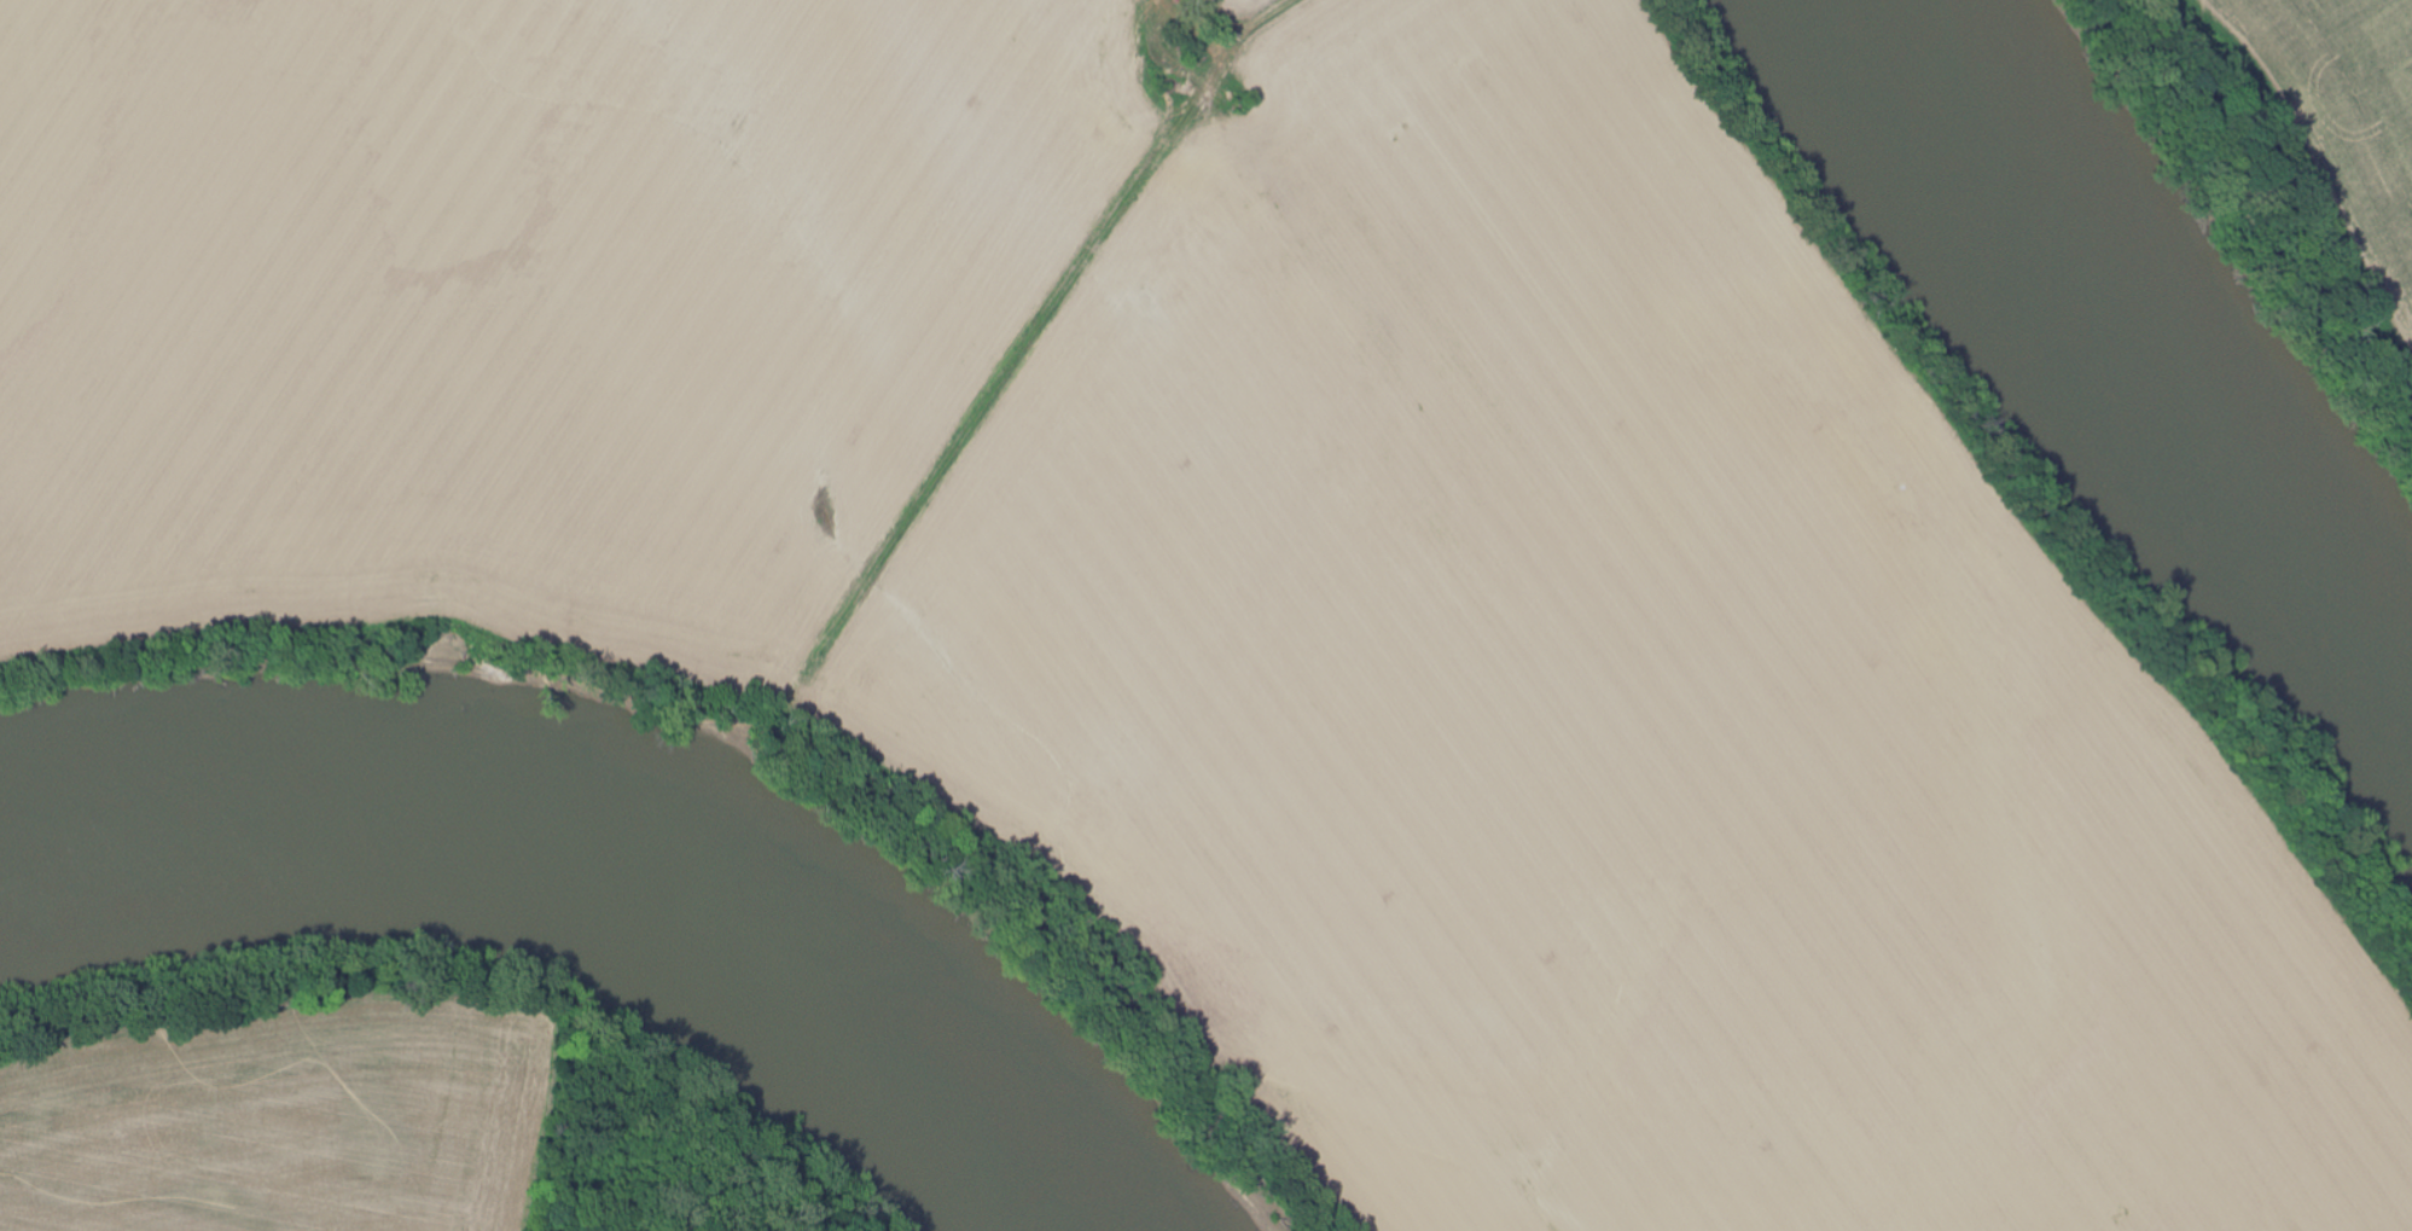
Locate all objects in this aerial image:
river: (2120, 361)
river: (597, 855)

